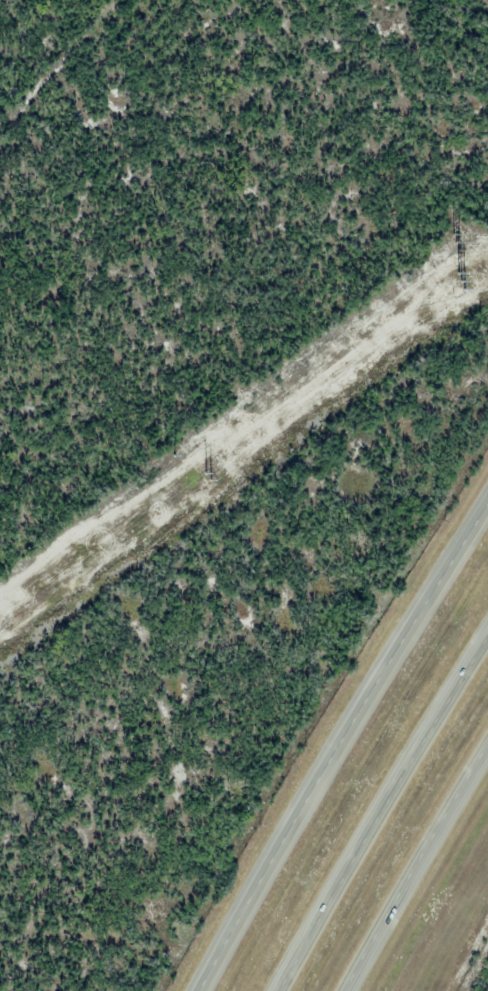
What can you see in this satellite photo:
power tower: (465, 277)
power tower: (200, 481)
road: (340, 746)
road: (381, 813)
road: (417, 871)

